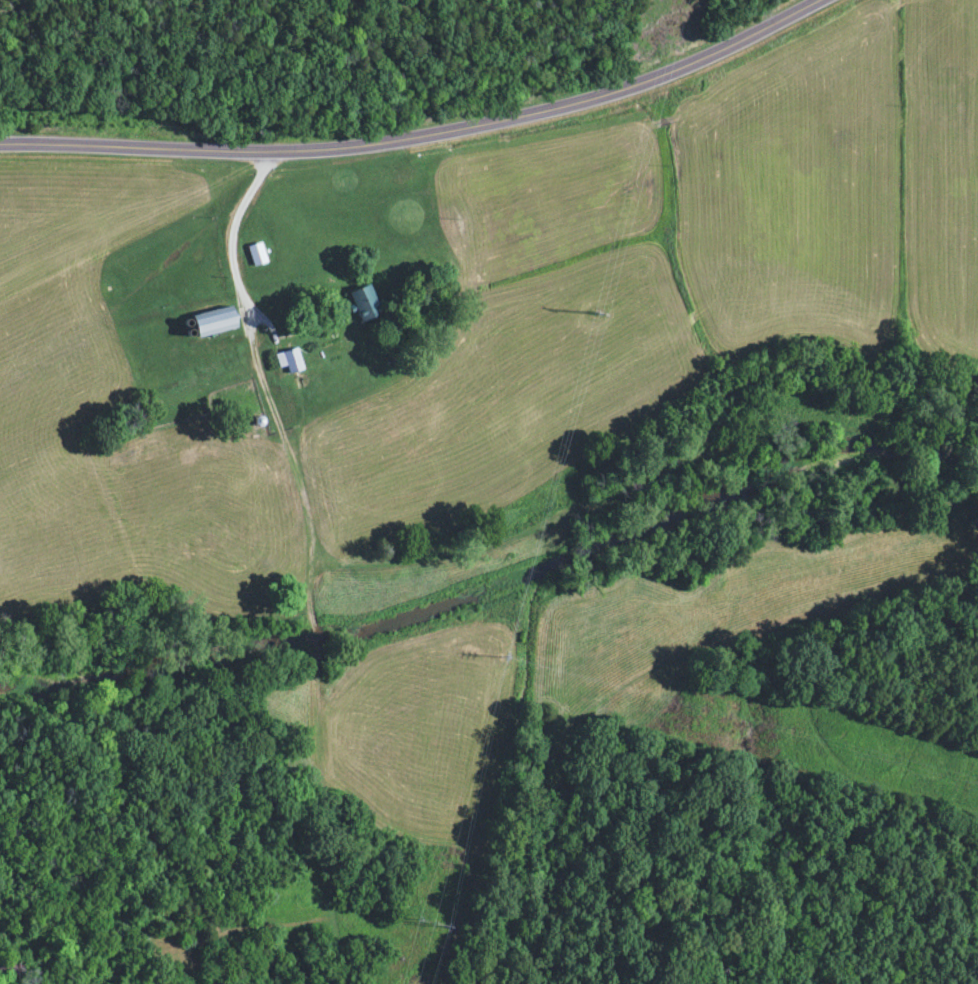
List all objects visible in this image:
road: (427, 139)
road: (229, 238)
building: (257, 256)
building: (365, 304)
power tower: (593, 313)
building: (215, 323)
building: (290, 362)
power tower: (426, 920)
building: (12, 972)

